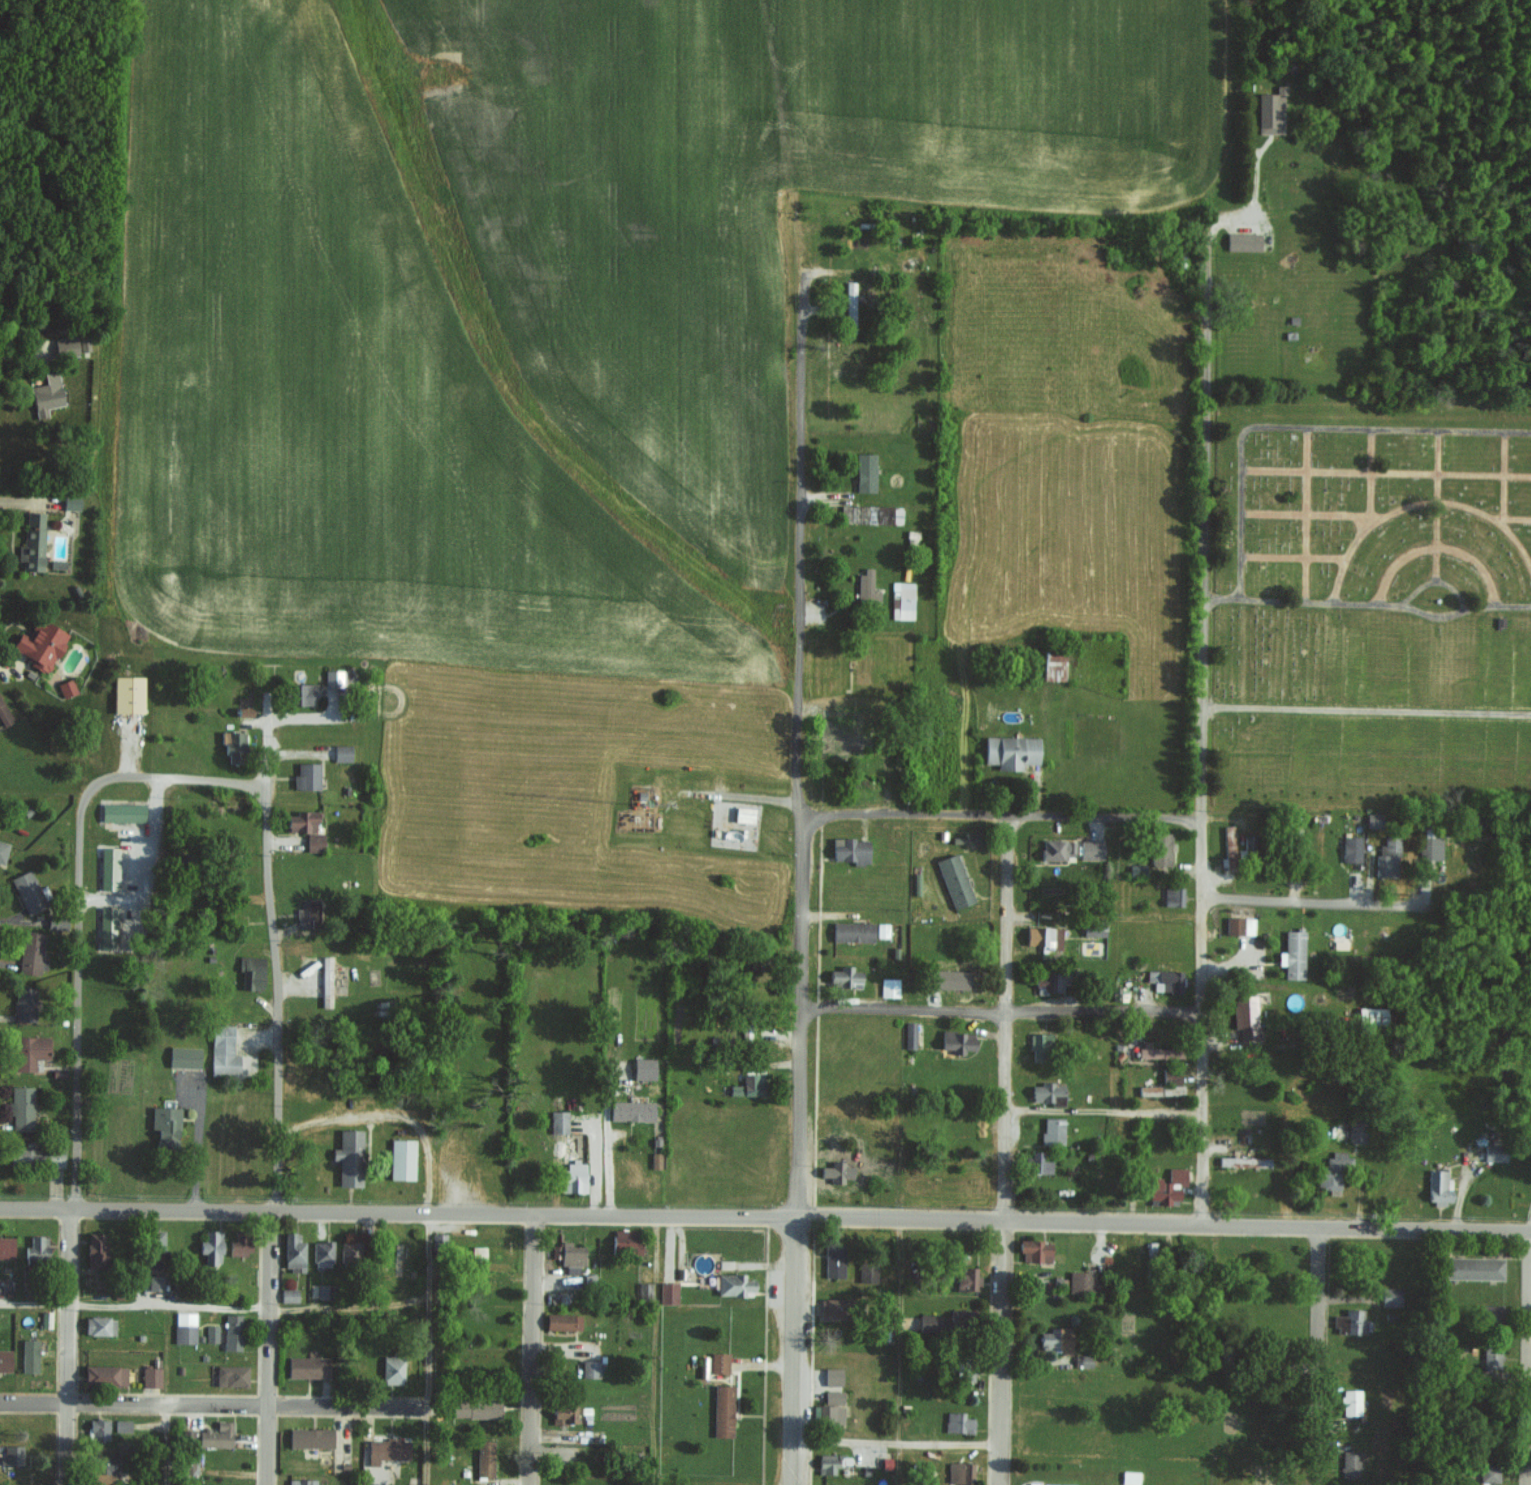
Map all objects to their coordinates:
building: (1271, 112)
building: (1243, 241)
building: (849, 307)
building: (83, 344)
building: (66, 346)
building: (46, 395)
road: (1300, 426)
building: (865, 472)
building: (71, 501)
building: (866, 513)
building: (32, 542)
park: (1372, 567)
building: (866, 587)
building: (902, 601)
road: (1374, 604)
road: (1433, 617)
building: (39, 645)
building: (1053, 665)
building: (333, 678)
building: (65, 688)
building: (303, 694)
building: (127, 695)
building: (243, 711)
road: (1366, 711)
road: (1201, 731)
road: (800, 743)
building: (839, 743)
building: (233, 746)
building: (1011, 750)
building: (342, 752)
building: (306, 774)
road: (158, 775)
building: (122, 811)
road: (1002, 814)
building: (301, 820)
building: (1373, 820)
building: (314, 841)
building: (1248, 845)
building: (1430, 846)
building: (1161, 847)
building: (1057, 848)
building: (1229, 848)
building: (1351, 848)
building: (851, 849)
building: (1091, 849)
building: (3, 850)
building: (1388, 857)
building: (108, 867)
building: (1137, 869)
building: (954, 880)
building: (27, 891)
building: (1173, 895)
road: (1285, 901)
building: (307, 913)
building: (1239, 925)
building: (107, 927)
building: (1093, 929)
building: (853, 931)
building: (1043, 935)
building: (31, 952)
building: (1293, 953)
building: (251, 972)
building: (845, 976)
building: (1165, 979)
building: (326, 980)
building: (1048, 981)
building: (889, 986)
building: (24, 1003)
road: (1000, 1009)
road: (76, 1014)
building: (1372, 1014)
building: (1244, 1015)
building: (909, 1034)
building: (957, 1041)
building: (1039, 1045)
building: (29, 1050)
building: (223, 1051)
building: (1158, 1051)
building: (184, 1056)
road: (274, 1061)
building: (643, 1068)
building: (1171, 1075)
building: (747, 1085)
building: (1160, 1089)
building: (1047, 1091)
building: (20, 1107)
building: (631, 1110)
road: (1104, 1111)
building: (558, 1121)
building: (165, 1123)
building: (1052, 1130)
building: (1356, 1130)
road: (606, 1143)
road: (1004, 1150)
building: (1494, 1152)
building: (37, 1156)
building: (348, 1156)
building: (401, 1158)
building: (1244, 1161)
building: (1039, 1163)
road: (595, 1166)
building: (837, 1171)
building: (1332, 1173)
building: (573, 1176)
building: (1166, 1186)
building: (1438, 1187)
road: (765, 1217)
building: (625, 1241)
building: (239, 1243)
building: (36, 1245)
building: (211, 1246)
building: (6, 1247)
building: (155, 1247)
building: (95, 1249)
building: (350, 1249)
building: (1035, 1250)
building: (293, 1251)
building: (322, 1251)
building: (571, 1257)
building: (833, 1260)
building: (1472, 1267)
building: (867, 1271)
building: (966, 1277)
building: (155, 1281)
building: (1081, 1281)
building: (734, 1284)
building: (322, 1290)
building: (668, 1292)
building: (289, 1295)
building: (1390, 1296)
road: (215, 1306)
building: (831, 1307)
building: (1490, 1313)
building: (954, 1315)
building: (45, 1318)
building: (562, 1321)
building: (929, 1322)
building: (1349, 1322)
building: (99, 1325)
building: (184, 1327)
building: (232, 1331)
building: (211, 1333)
building: (1056, 1339)
road: (66, 1346)
road: (428, 1349)
road: (530, 1349)
road: (794, 1351)
building: (29, 1355)
road: (1315, 1356)
building: (1491, 1356)
road: (1523, 1357)
building: (4, 1359)
building: (718, 1362)
building: (307, 1366)
building: (590, 1368)
building: (392, 1369)
building: (965, 1373)
building: (231, 1374)
building: (105, 1375)
building: (832, 1375)
building: (150, 1376)
building: (833, 1396)
building: (1351, 1401)
road: (218, 1404)
building: (475, 1406)
building: (722, 1411)
building: (563, 1412)
building: (828, 1414)
building: (958, 1422)
building: (122, 1425)
building: (98, 1428)
building: (216, 1435)
building: (187, 1436)
building: (310, 1437)
road: (166, 1444)
road: (896, 1444)
building: (387, 1449)
building: (11, 1454)
building: (484, 1458)
building: (829, 1462)
building: (1350, 1465)
building: (103, 1467)
building: (960, 1472)
building: (1489, 1472)
building: (1130, 1477)
building: (297, 1481)
building: (1055, 1484)

